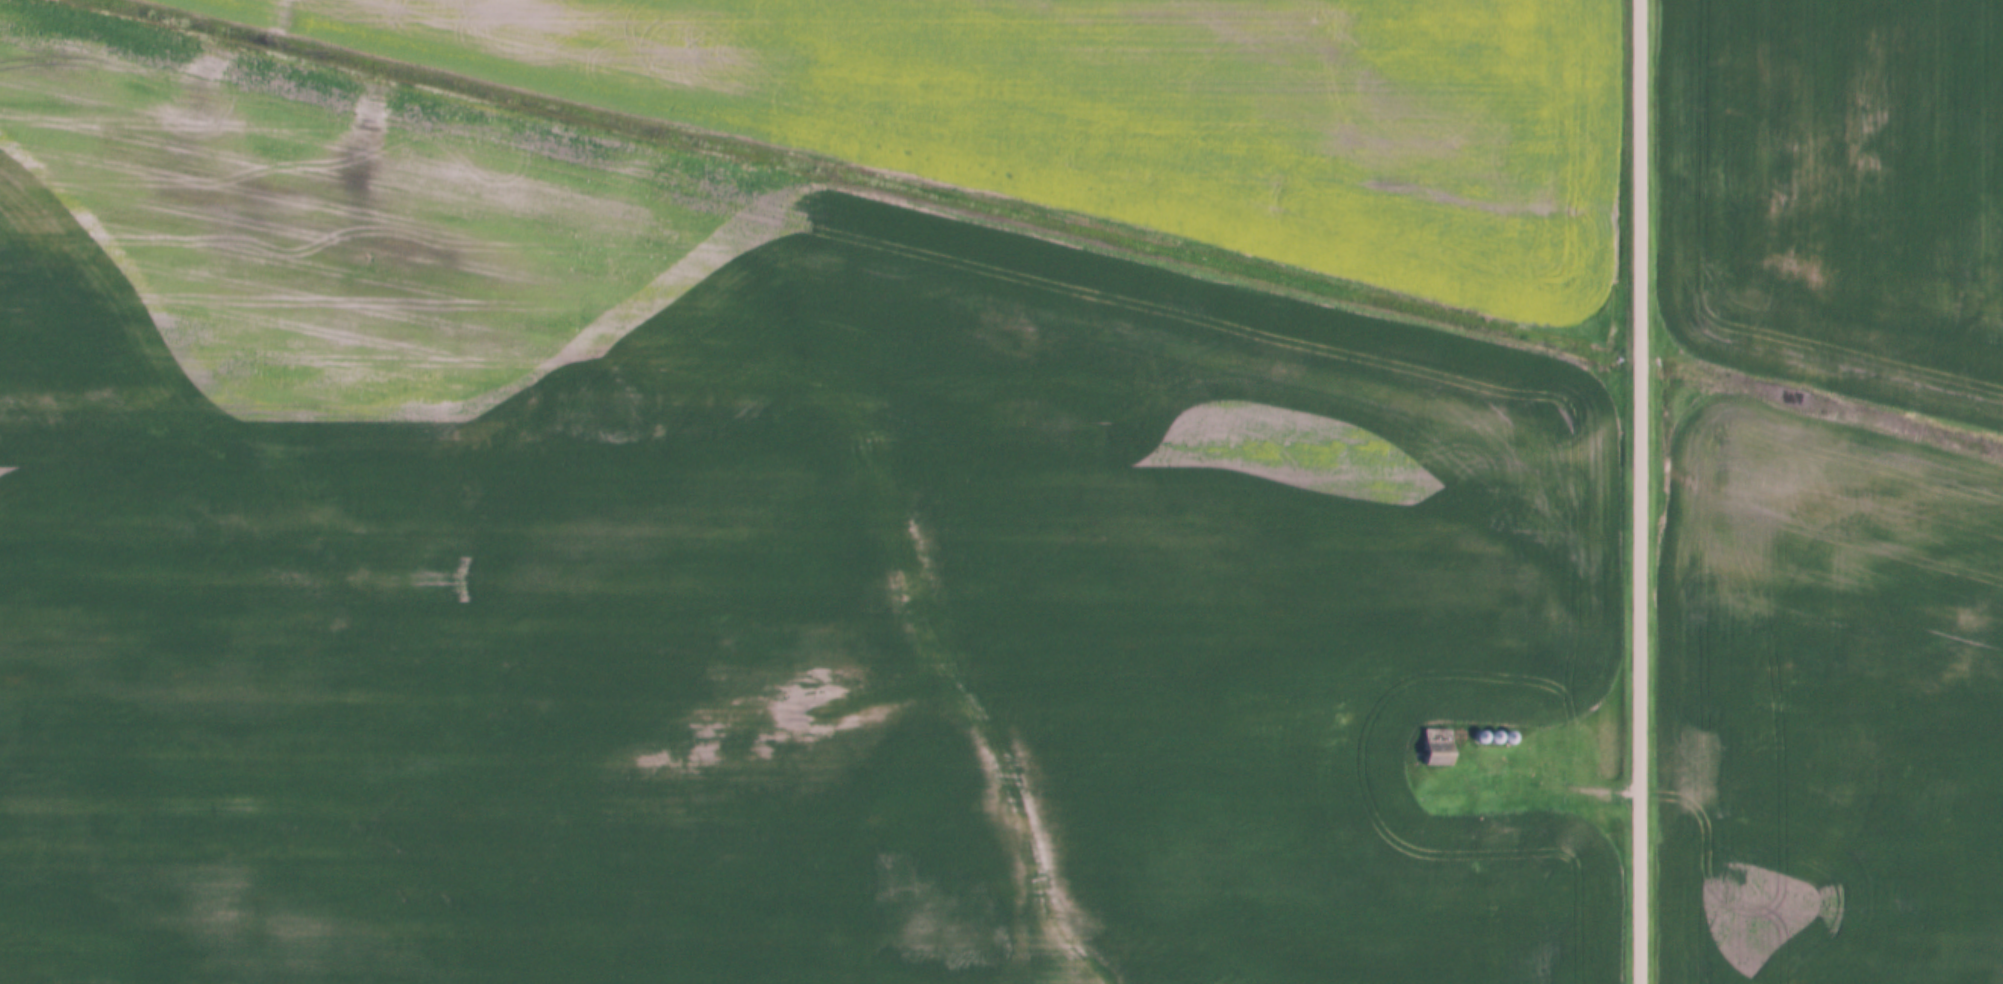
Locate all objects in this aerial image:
road: (1644, 492)

